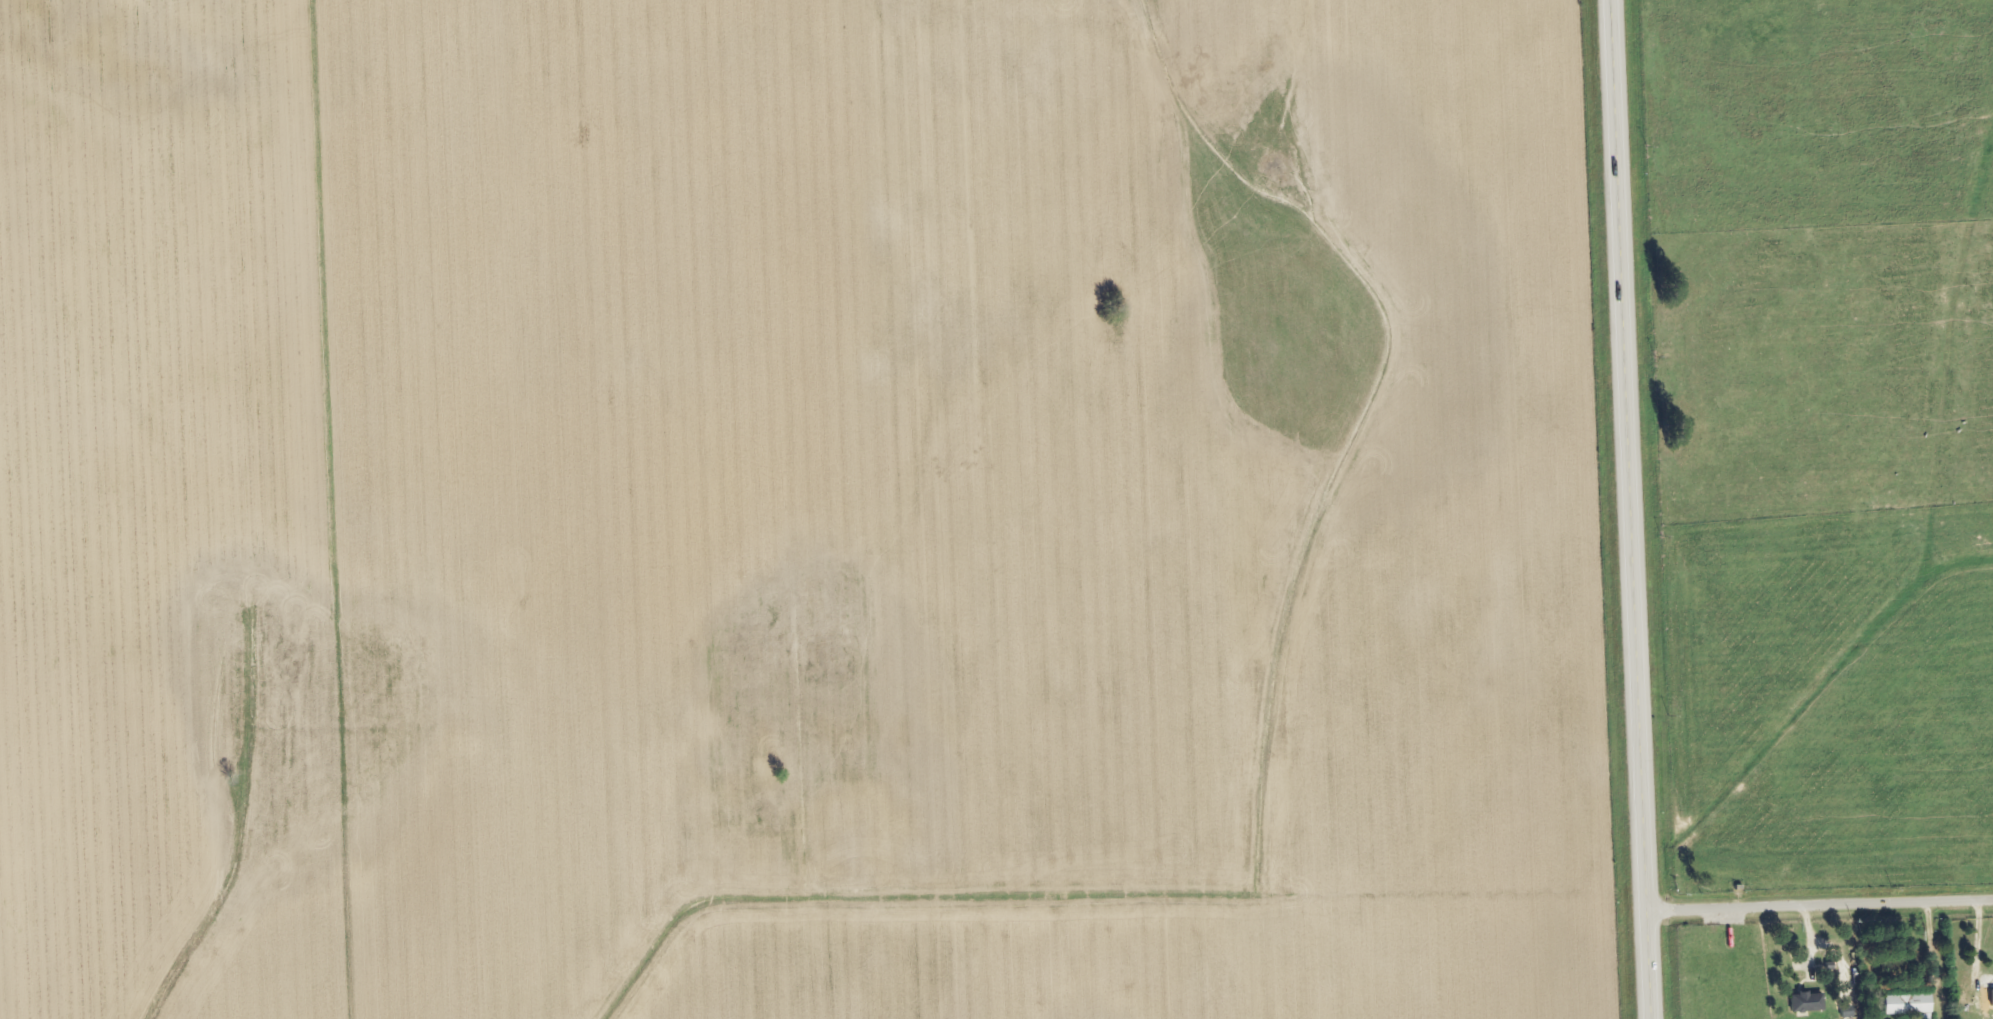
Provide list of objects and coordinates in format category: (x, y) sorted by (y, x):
road: (1627, 509)
road: (1817, 905)
road: (1979, 954)
building: (1991, 996)
building: (1807, 1003)
building: (1908, 1004)

